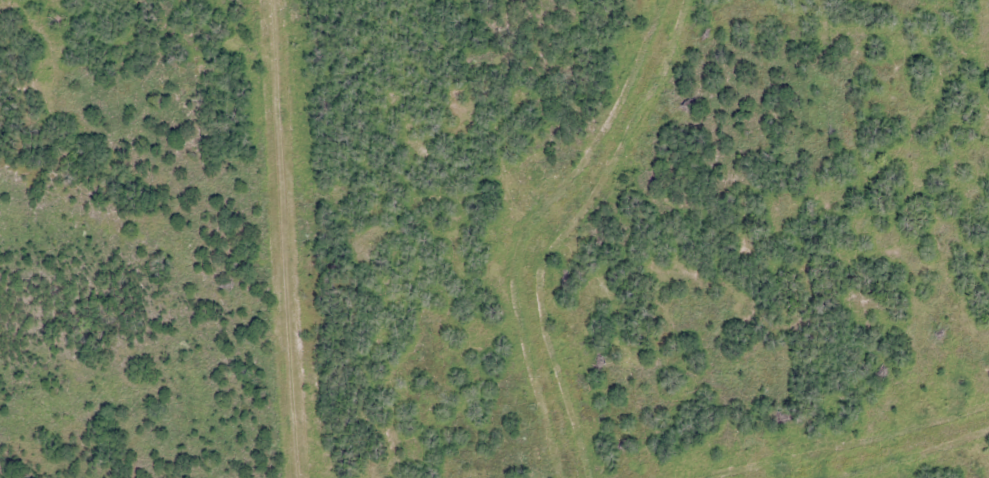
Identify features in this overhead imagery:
road: (247, 238)

